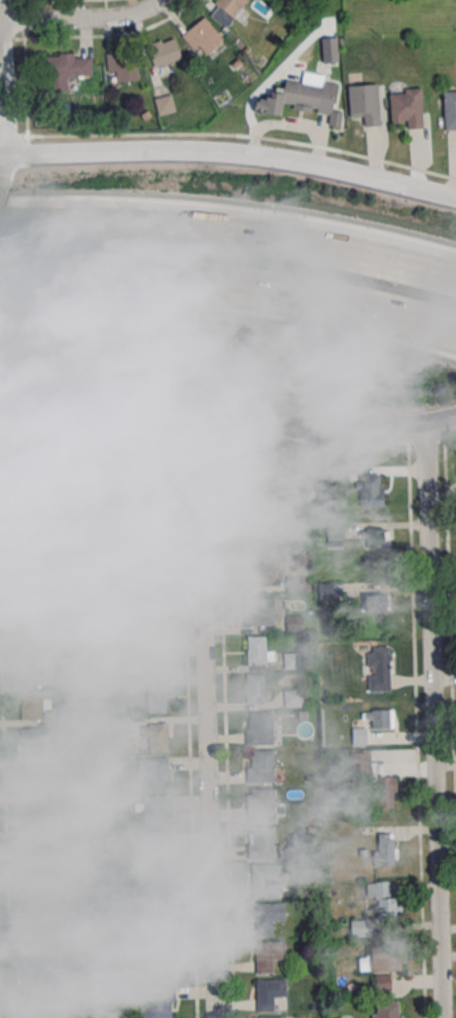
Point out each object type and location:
road: (0, 10)
building: (226, 10)
road: (85, 18)
road: (0, 21)
building: (202, 37)
building: (329, 50)
building: (162, 52)
building: (121, 66)
building: (67, 69)
road: (3, 88)
building: (300, 99)
building: (364, 103)
building: (165, 104)
building: (406, 107)
building: (449, 109)
road: (230, 135)
road: (230, 152)
road: (0, 155)
road: (0, 156)
road: (105, 225)
road: (334, 250)
road: (111, 279)
road: (339, 305)
road: (87, 375)
building: (10, 399)
road: (441, 418)
road: (298, 423)
building: (118, 427)
building: (223, 449)
building: (119, 468)
building: (44, 479)
building: (228, 486)
building: (370, 490)
building: (266, 493)
building: (121, 505)
building: (21, 507)
building: (56, 520)
building: (246, 525)
building: (334, 534)
building: (376, 538)
building: (139, 544)
building: (30, 550)
building: (67, 561)
building: (257, 572)
building: (111, 574)
building: (149, 582)
building: (294, 584)
building: (32, 590)
building: (73, 601)
building: (376, 604)
building: (259, 611)
building: (152, 621)
building: (294, 624)
building: (28, 628)
building: (73, 638)
building: (259, 651)
building: (152, 658)
building: (292, 660)
building: (41, 665)
building: (379, 668)
building: (119, 687)
building: (255, 688)
building: (156, 698)
building: (293, 698)
building: (35, 703)
road: (206, 703)
building: (67, 716)
building: (380, 718)
road: (433, 720)
building: (117, 727)
building: (259, 728)
building: (156, 736)
building: (33, 743)
building: (68, 755)
building: (260, 766)
building: (153, 773)
building: (374, 778)
building: (34, 780)
building: (75, 792)
building: (260, 805)
building: (154, 810)
building: (35, 818)
building: (68, 831)
building: (261, 843)
building: (385, 849)
building: (155, 850)
building: (34, 857)
building: (267, 880)
building: (157, 890)
building: (38, 895)
building: (383, 899)
building: (87, 906)
building: (268, 917)
building: (163, 927)
building: (361, 927)
building: (49, 933)
building: (269, 955)
building: (386, 959)
building: (160, 964)
building: (58, 972)
building: (269, 993)
building: (157, 1001)
building: (78, 1005)
building: (387, 1009)
building: (50, 1013)
building: (269, 1017)

